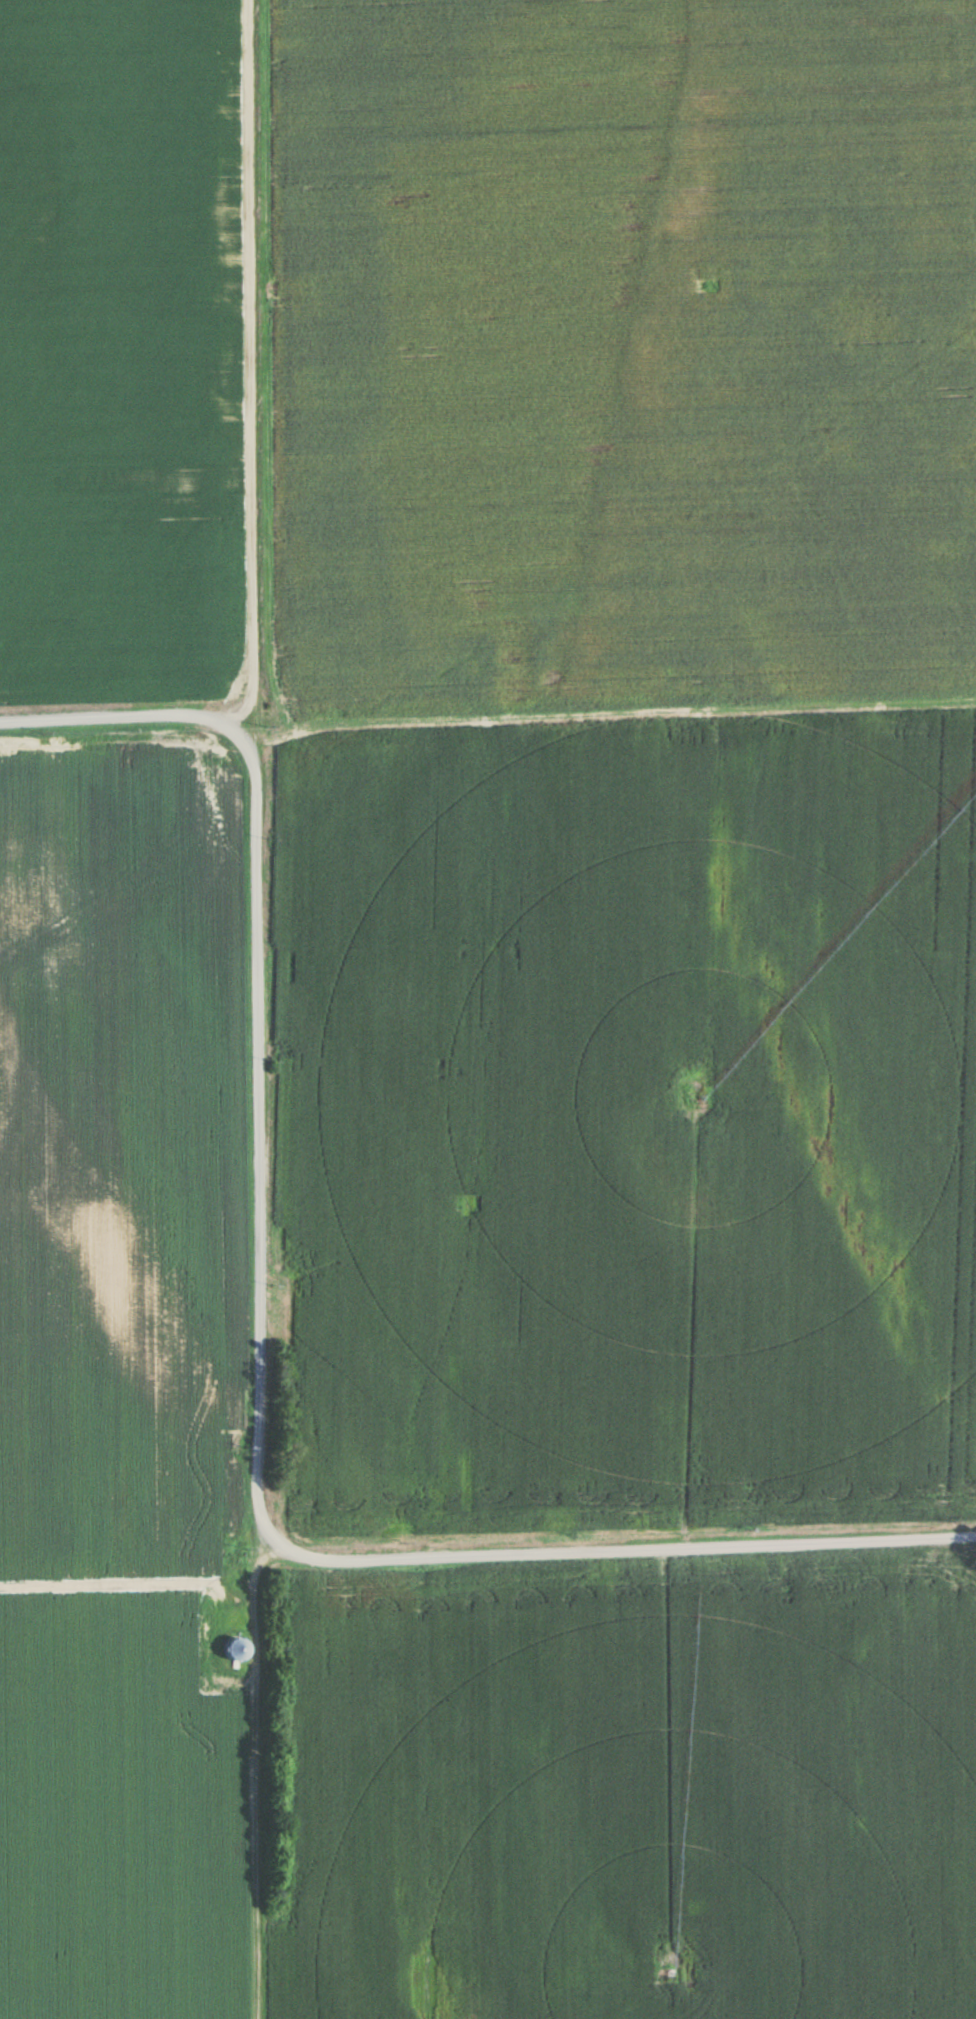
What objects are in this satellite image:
road: (251, 376)
road: (233, 707)
road: (258, 1366)
road: (253, 1775)

